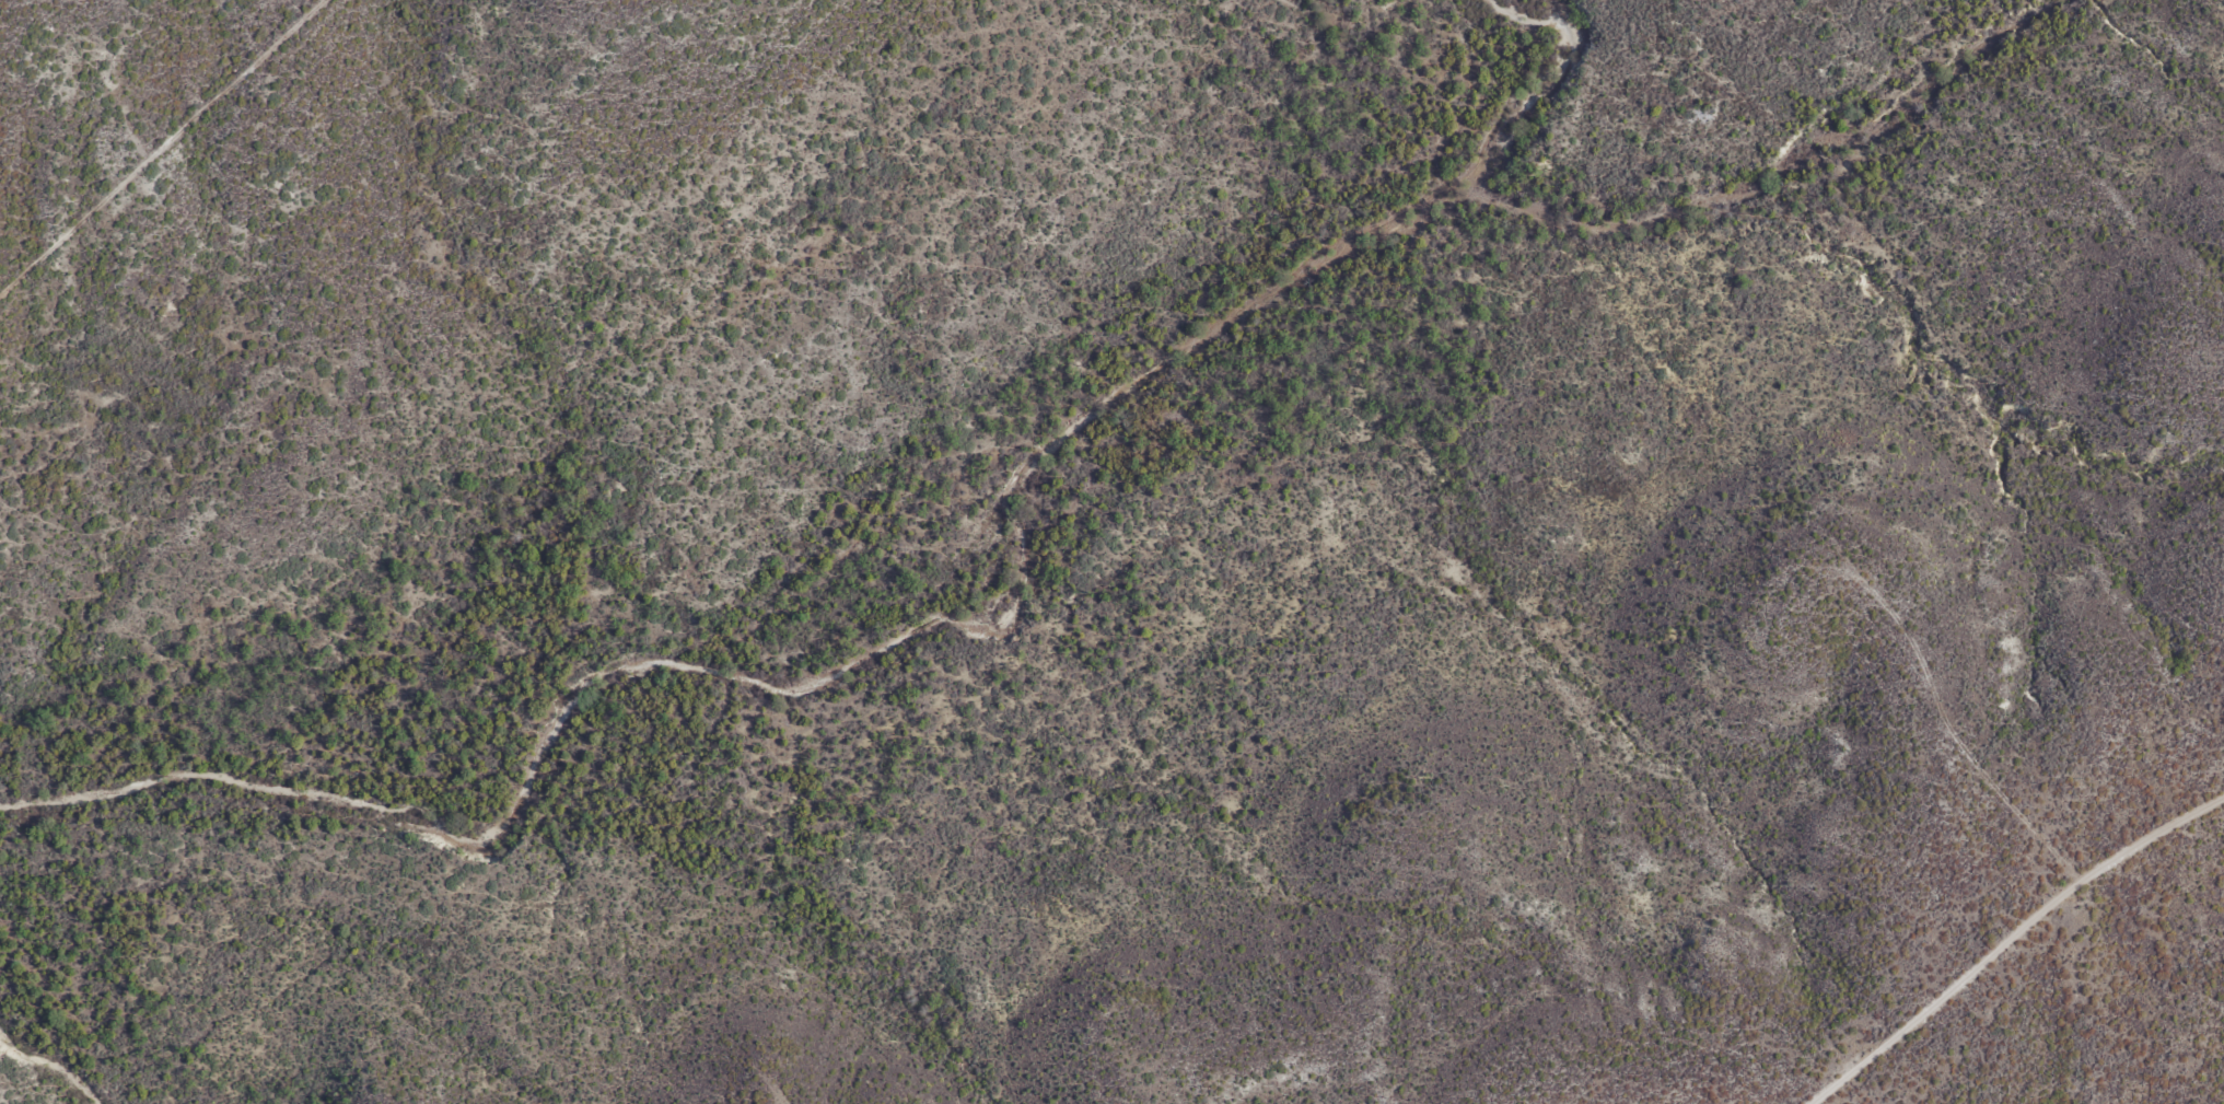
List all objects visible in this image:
road: (2012, 938)

